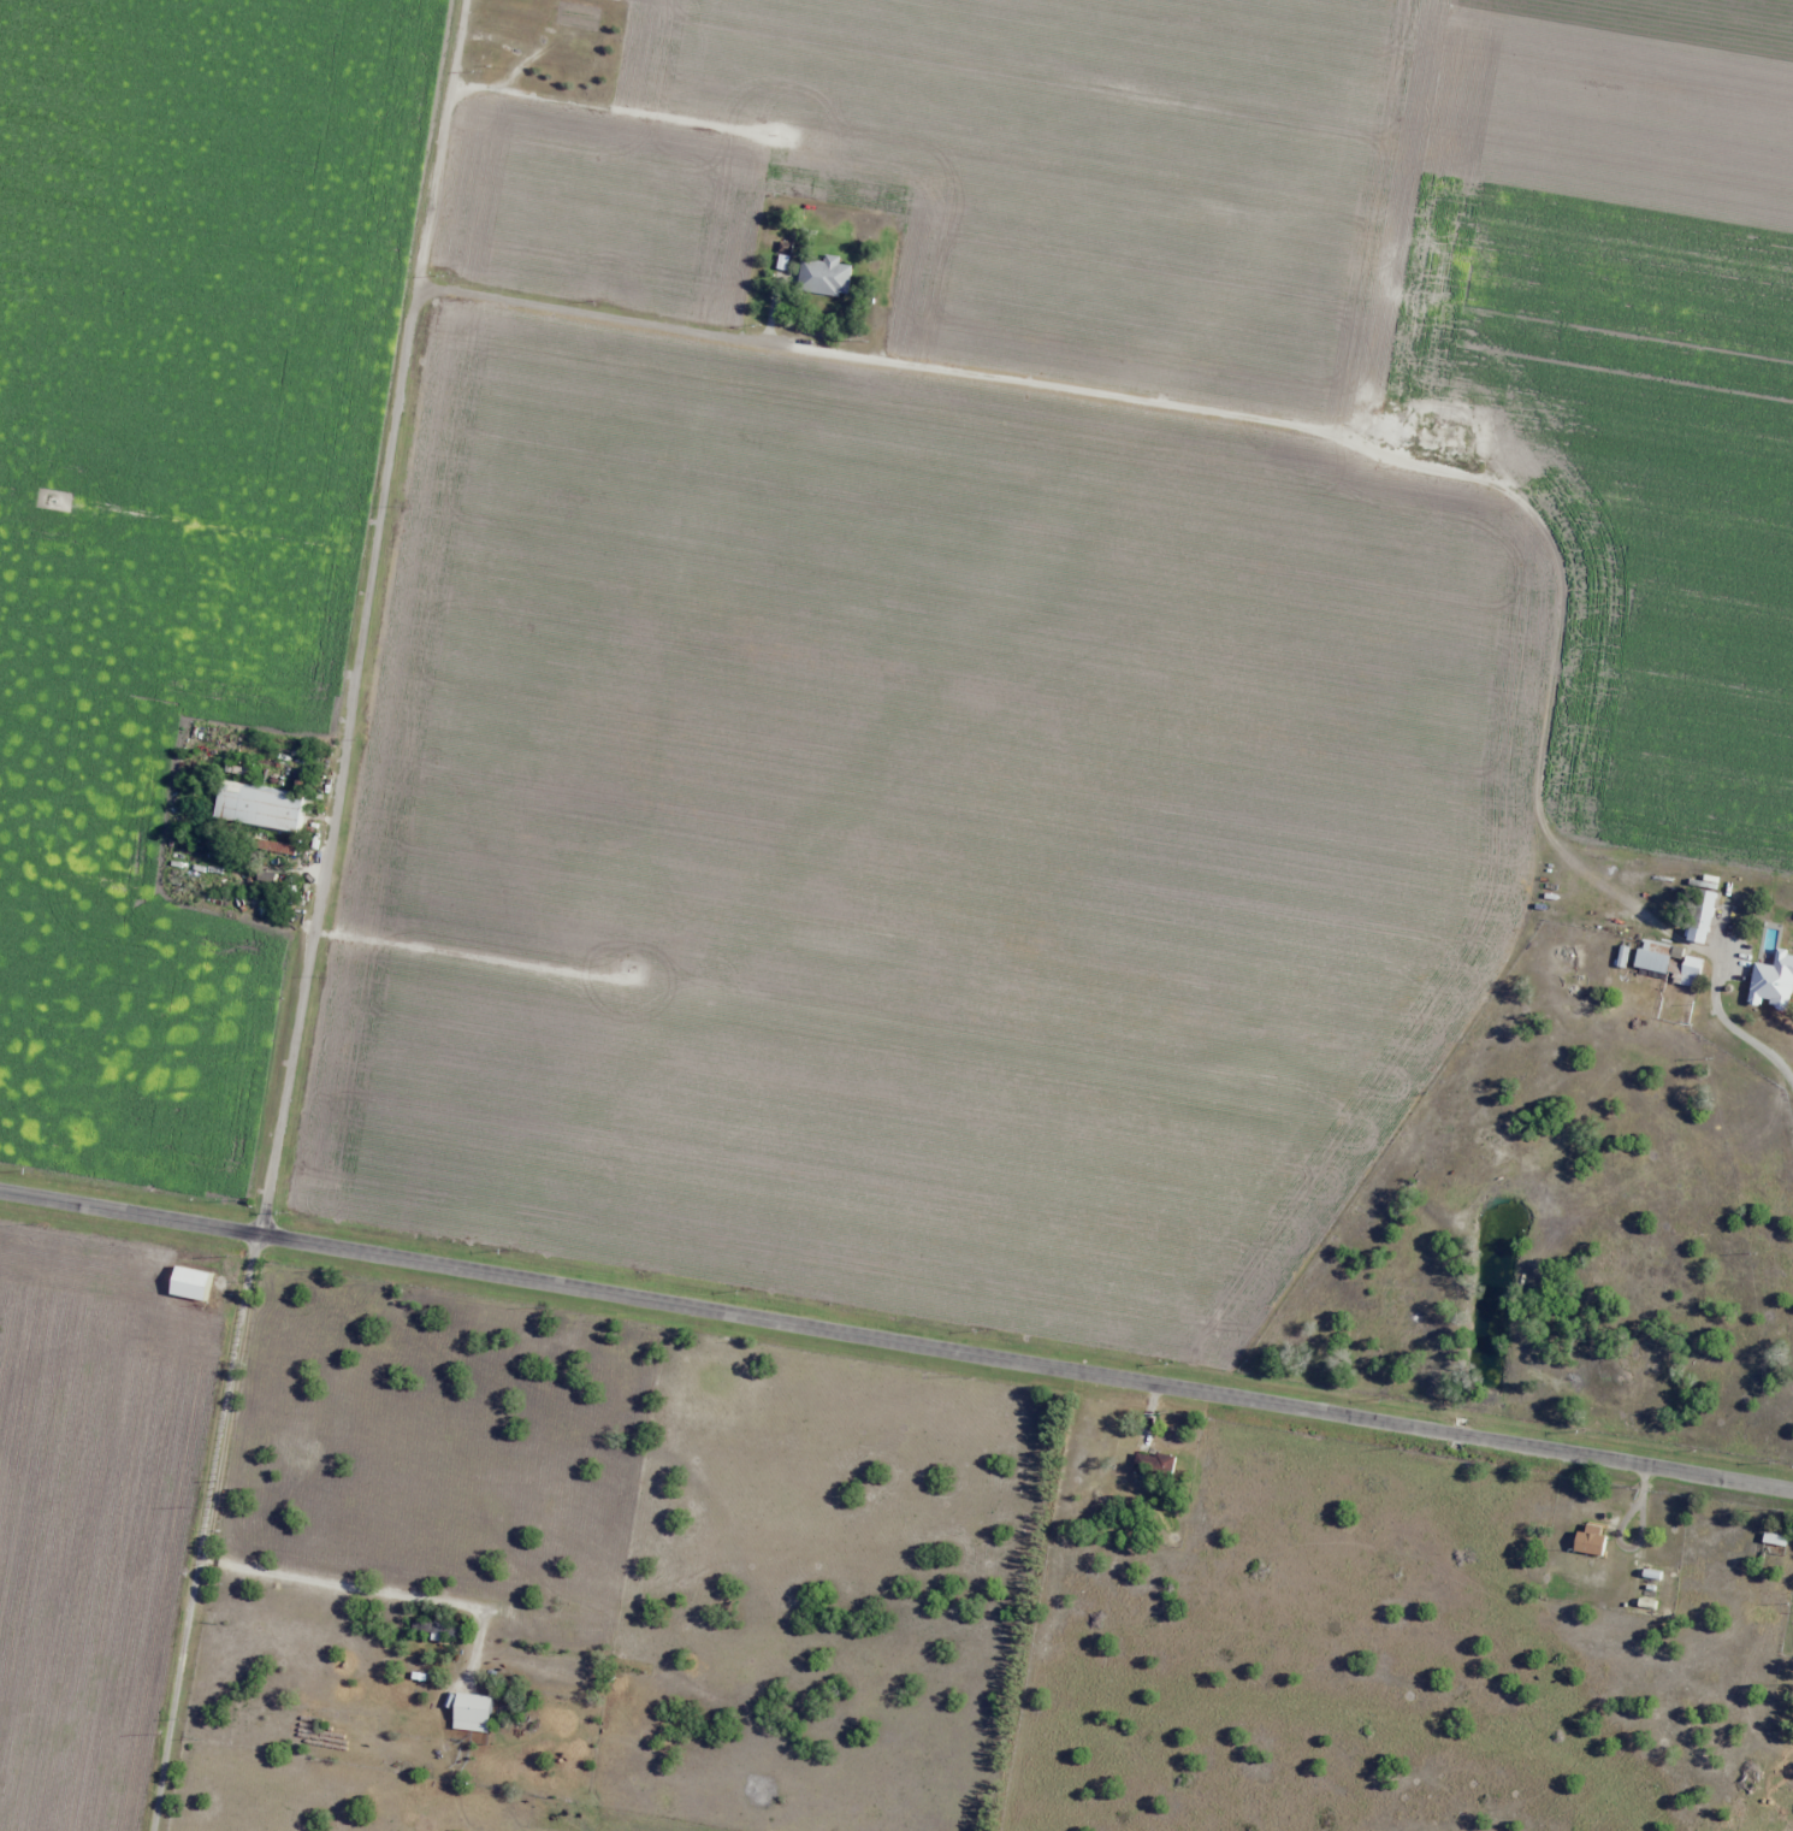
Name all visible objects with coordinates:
building: (824, 276)
building: (258, 808)
road: (314, 915)
building: (1699, 919)
building: (1741, 919)
building: (1665, 962)
building: (188, 1283)
road: (896, 1352)
building: (1153, 1465)
building: (1588, 1538)
building: (473, 1708)

